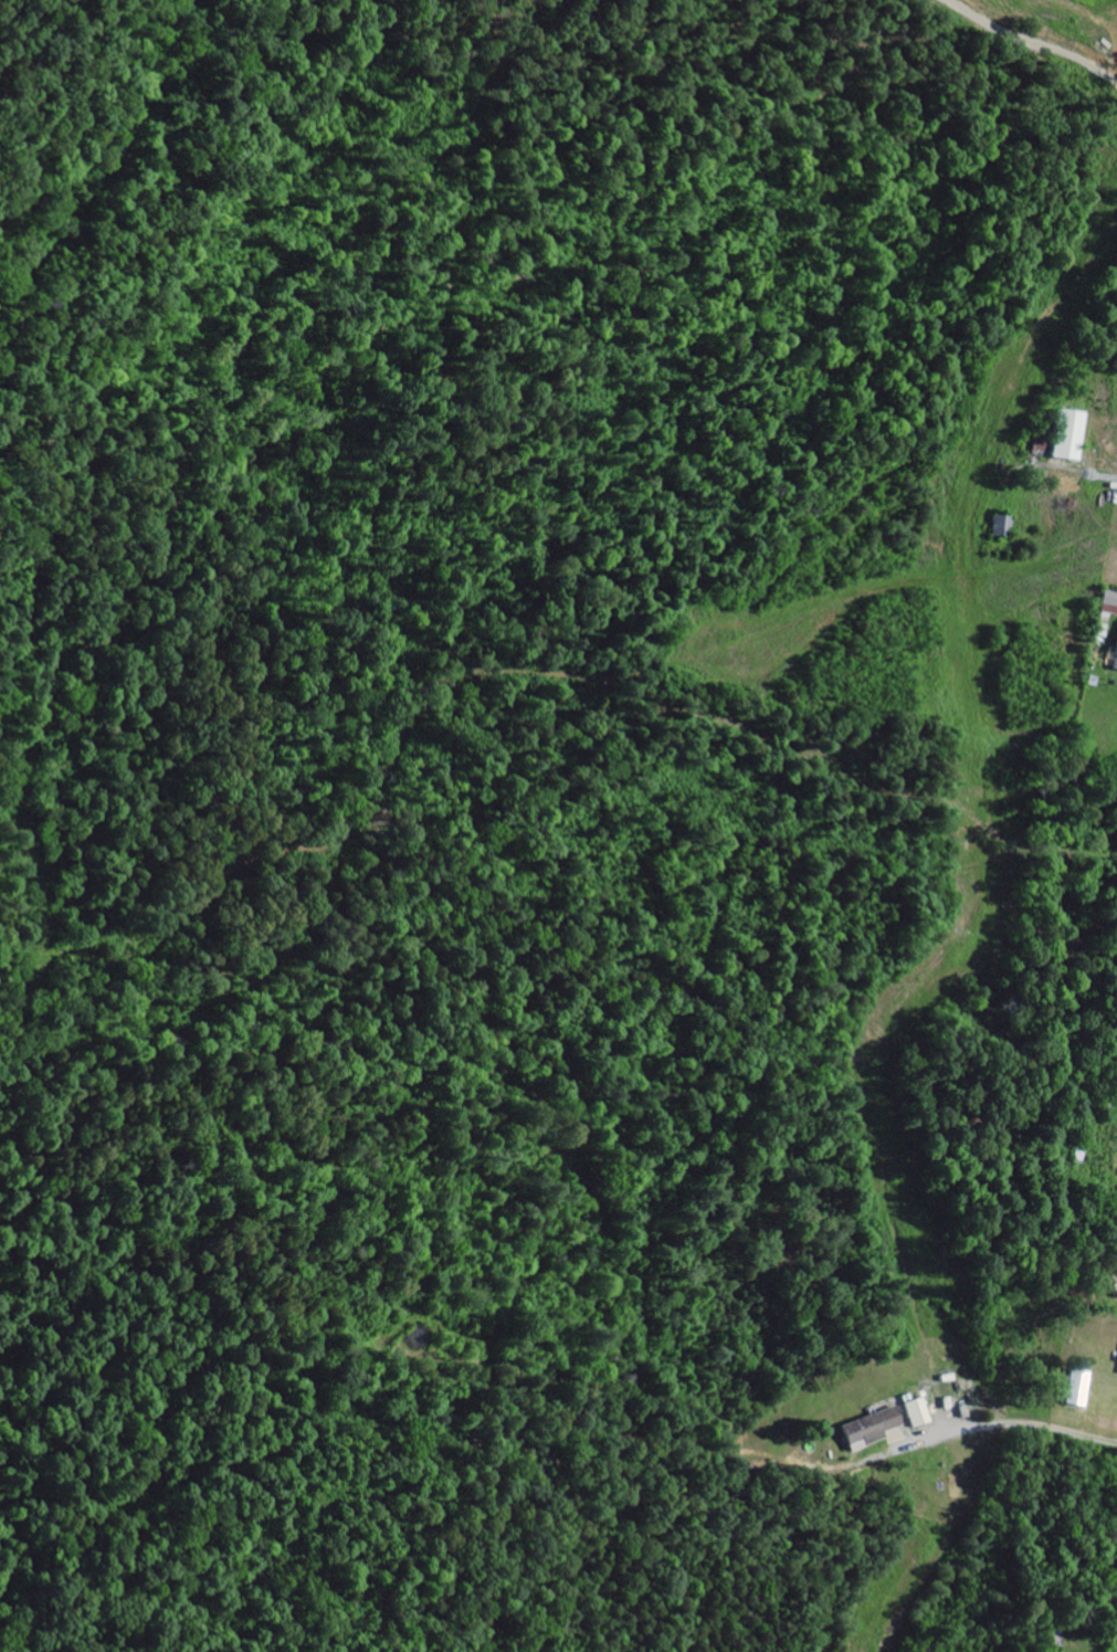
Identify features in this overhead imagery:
building: (1073, 435)
building: (1003, 527)
building: (1110, 603)
building: (1115, 662)
building: (1079, 1388)
building: (919, 1413)
road: (1009, 1423)
building: (873, 1429)

